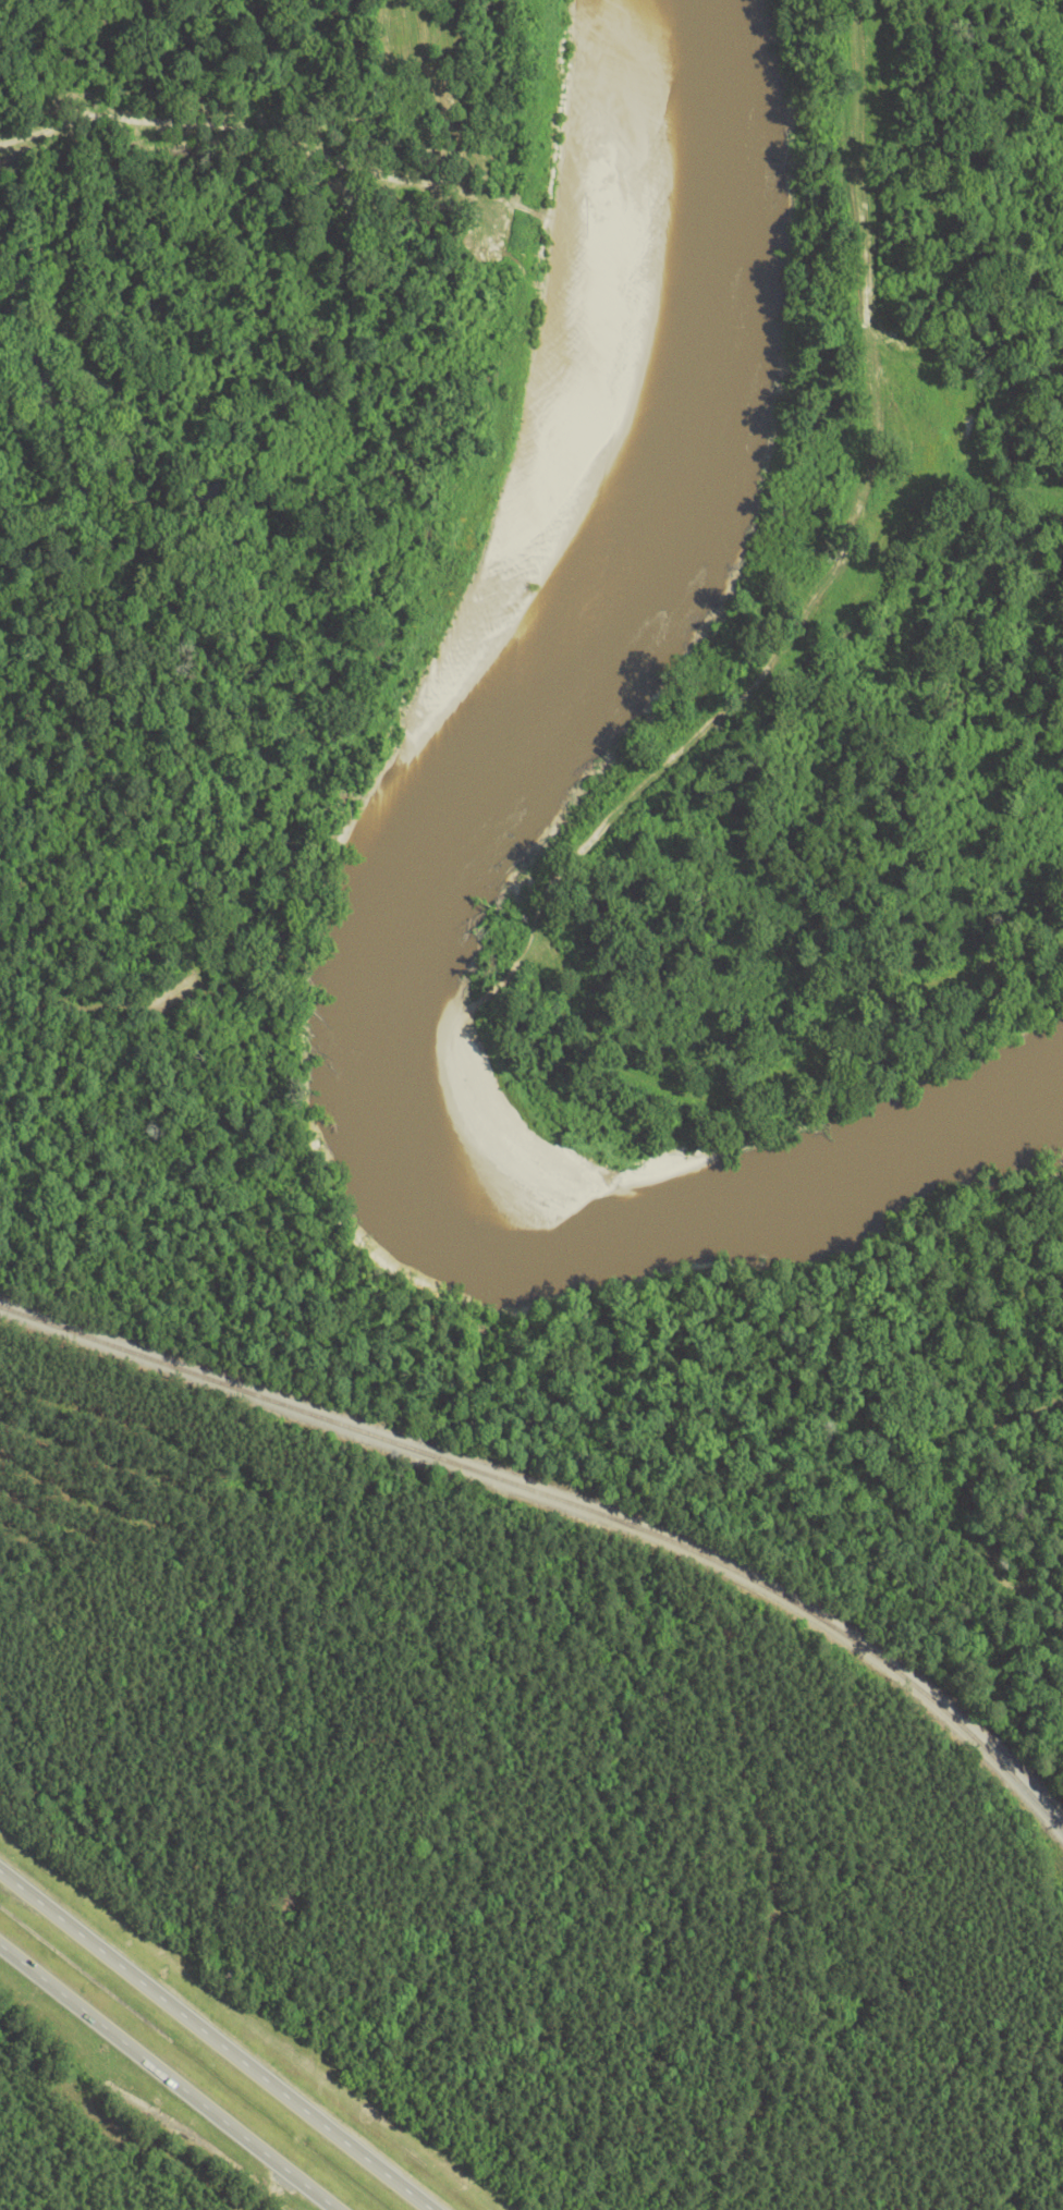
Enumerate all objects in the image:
river: (411, 904)
railway: (567, 1502)
road: (215, 2042)
road: (166, 2081)

